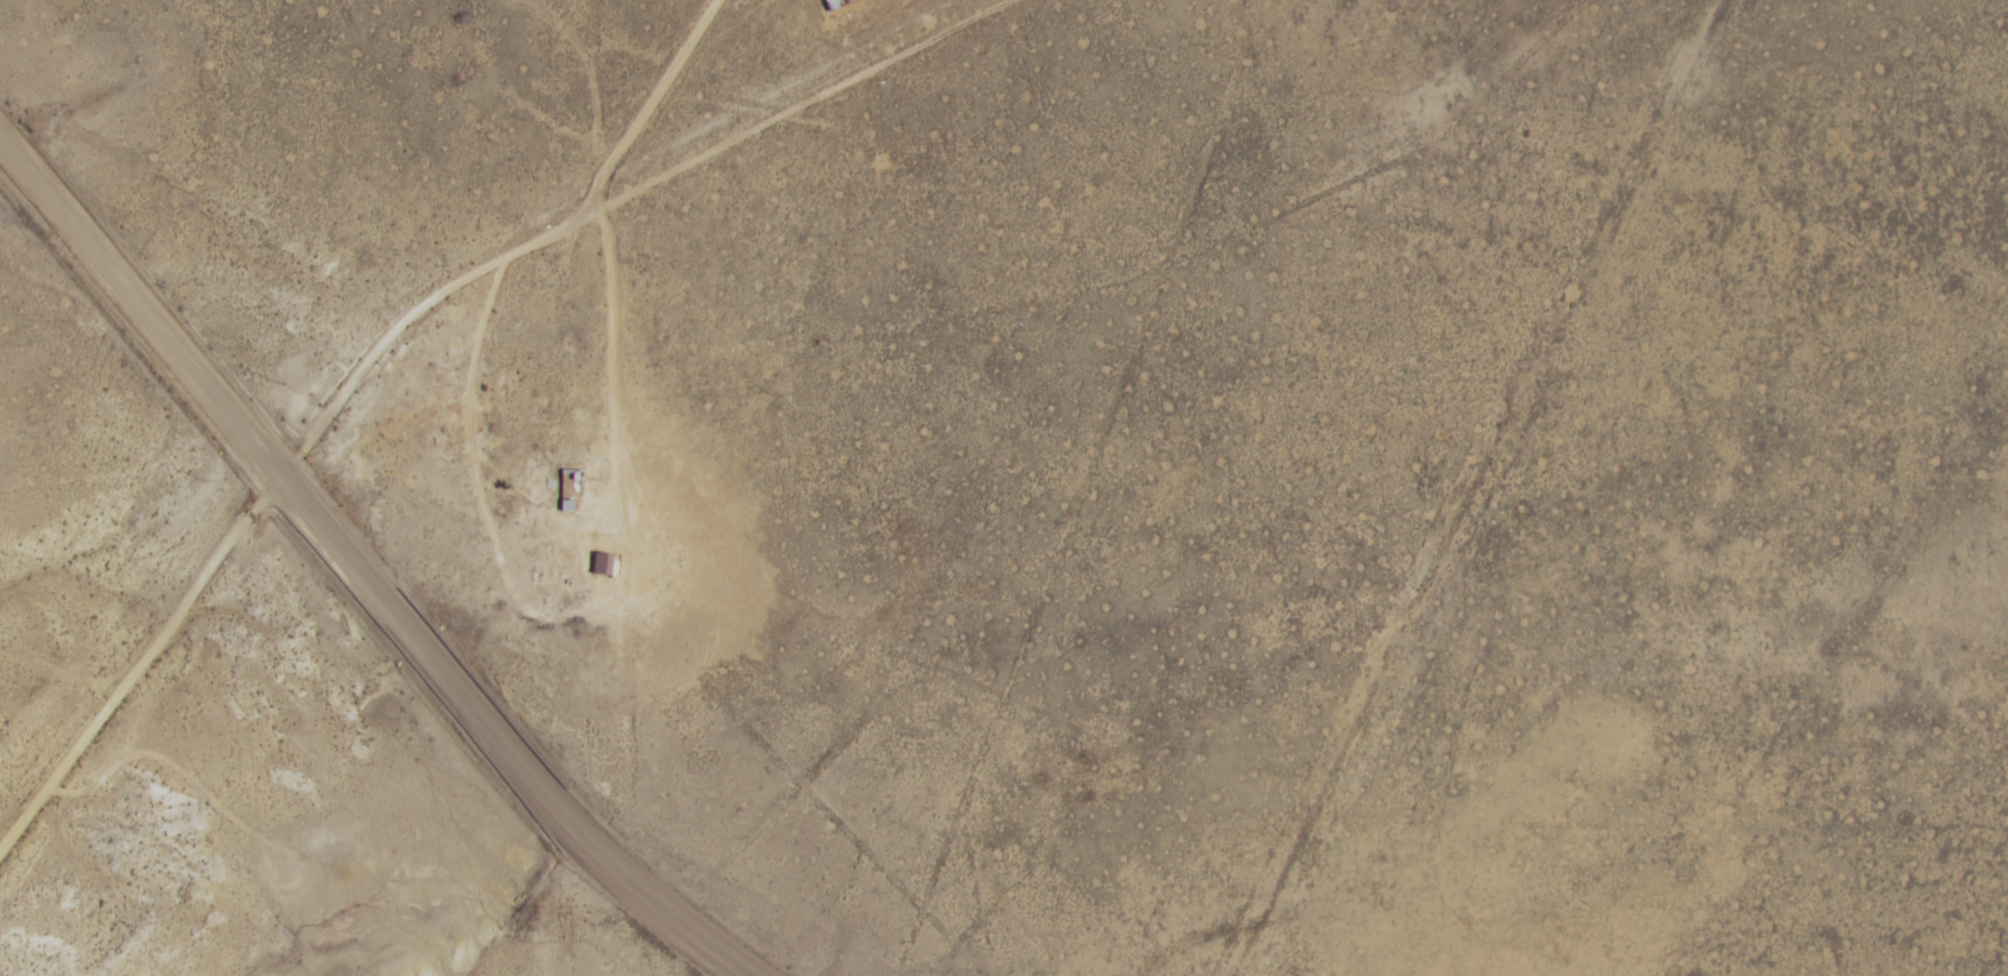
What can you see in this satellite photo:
building: (831, 4)
road: (42, 205)
road: (416, 313)
road: (610, 323)
building: (569, 484)
road: (1501, 488)
building: (603, 563)
road: (387, 612)
road: (57, 668)

